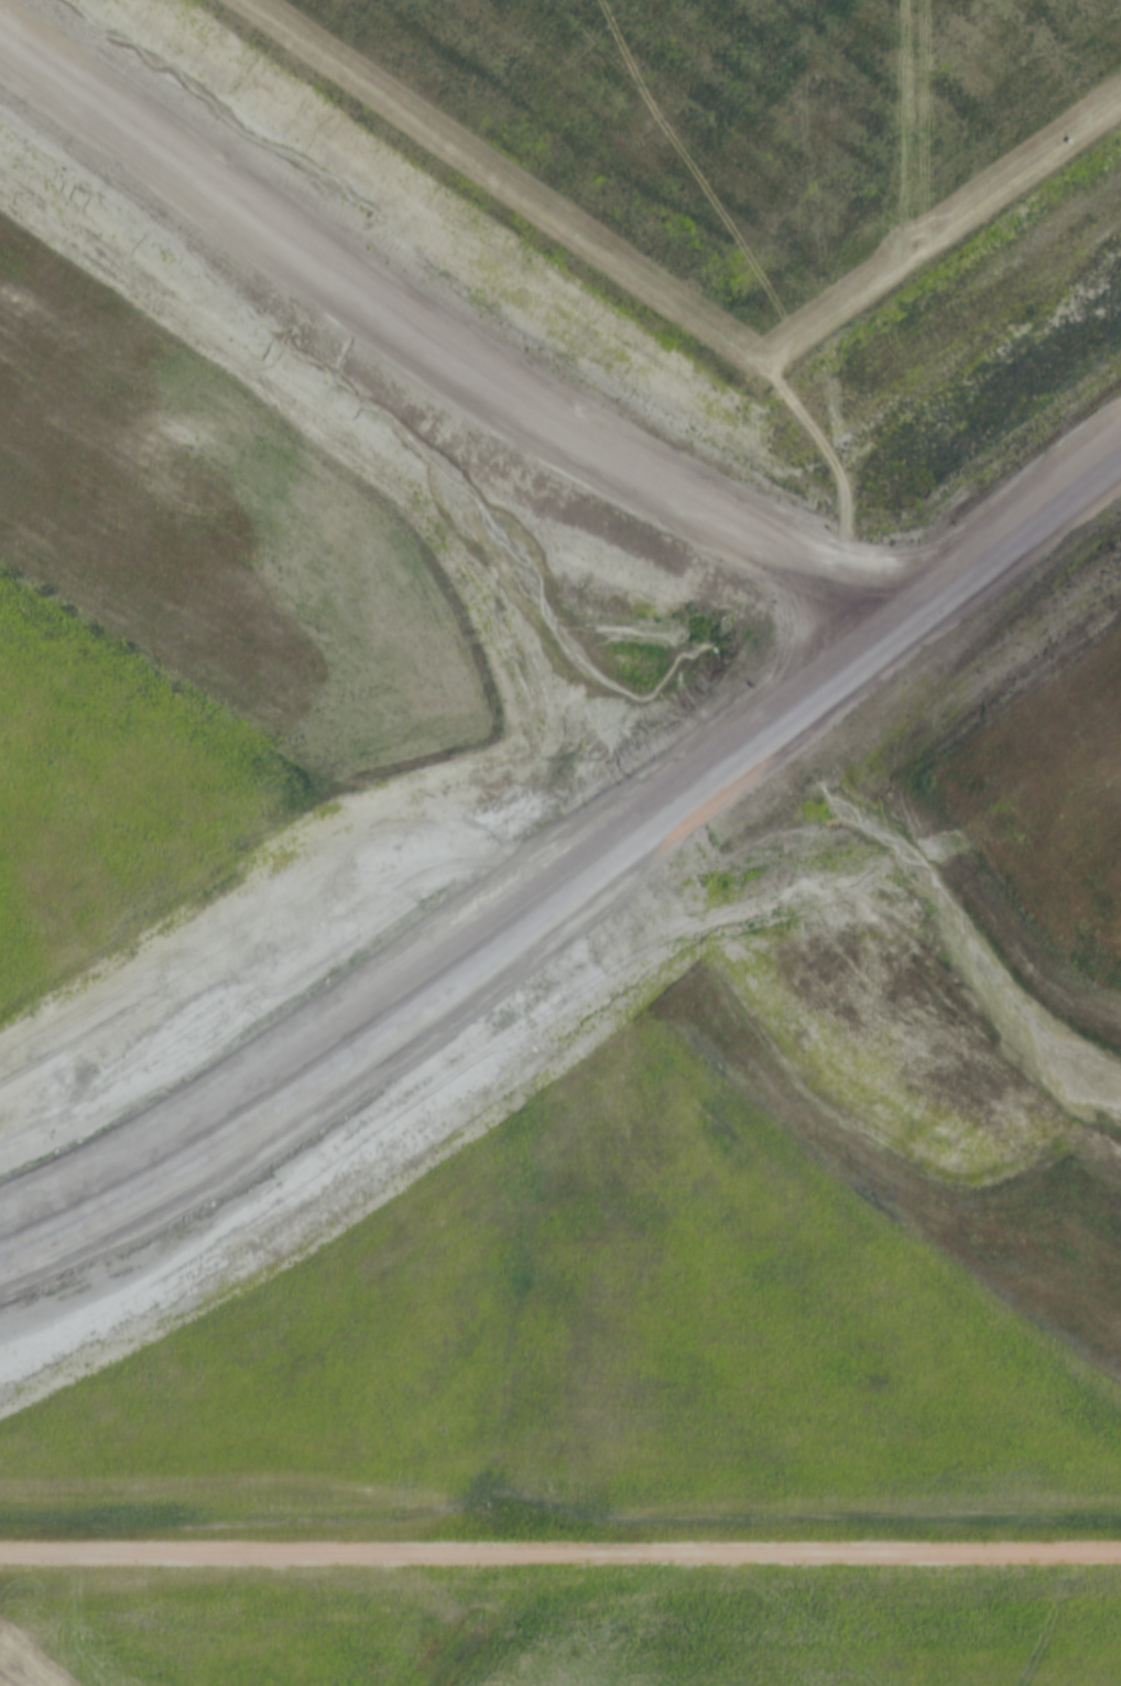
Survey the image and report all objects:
quarry: (1016, 136)

